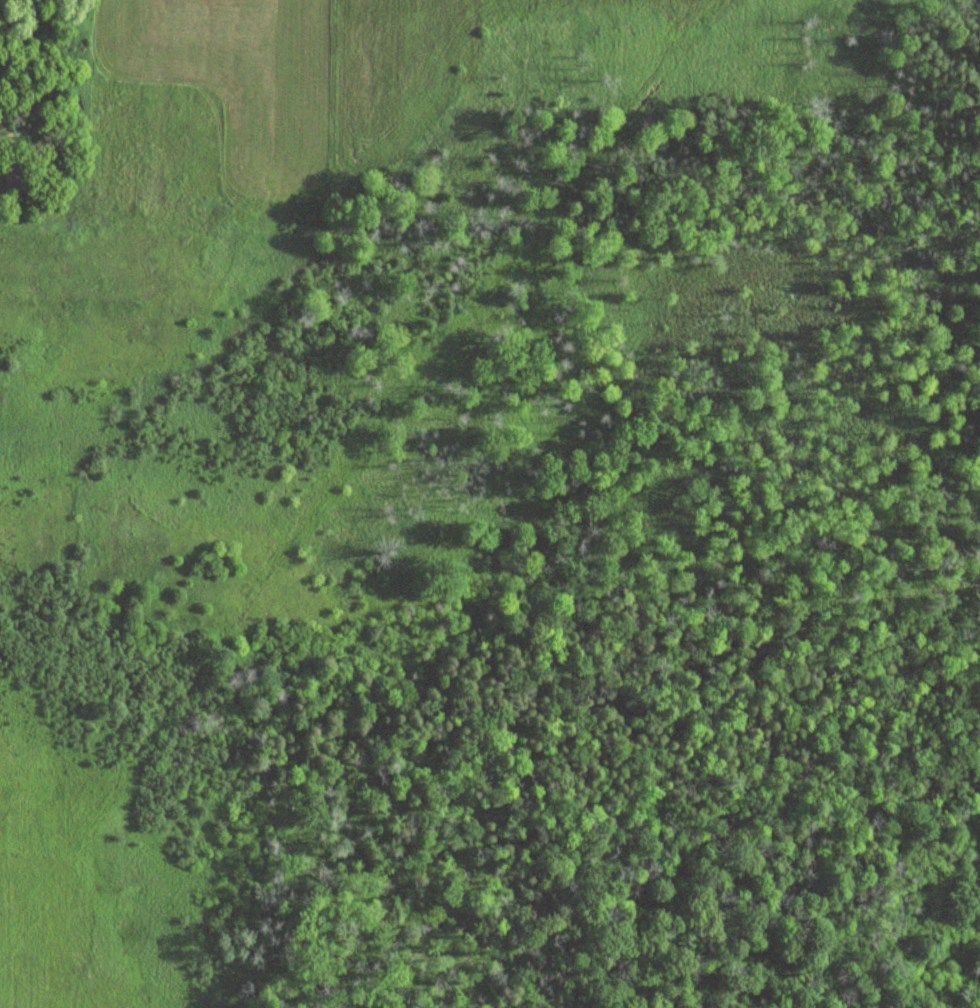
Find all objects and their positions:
building: (21, 175)

